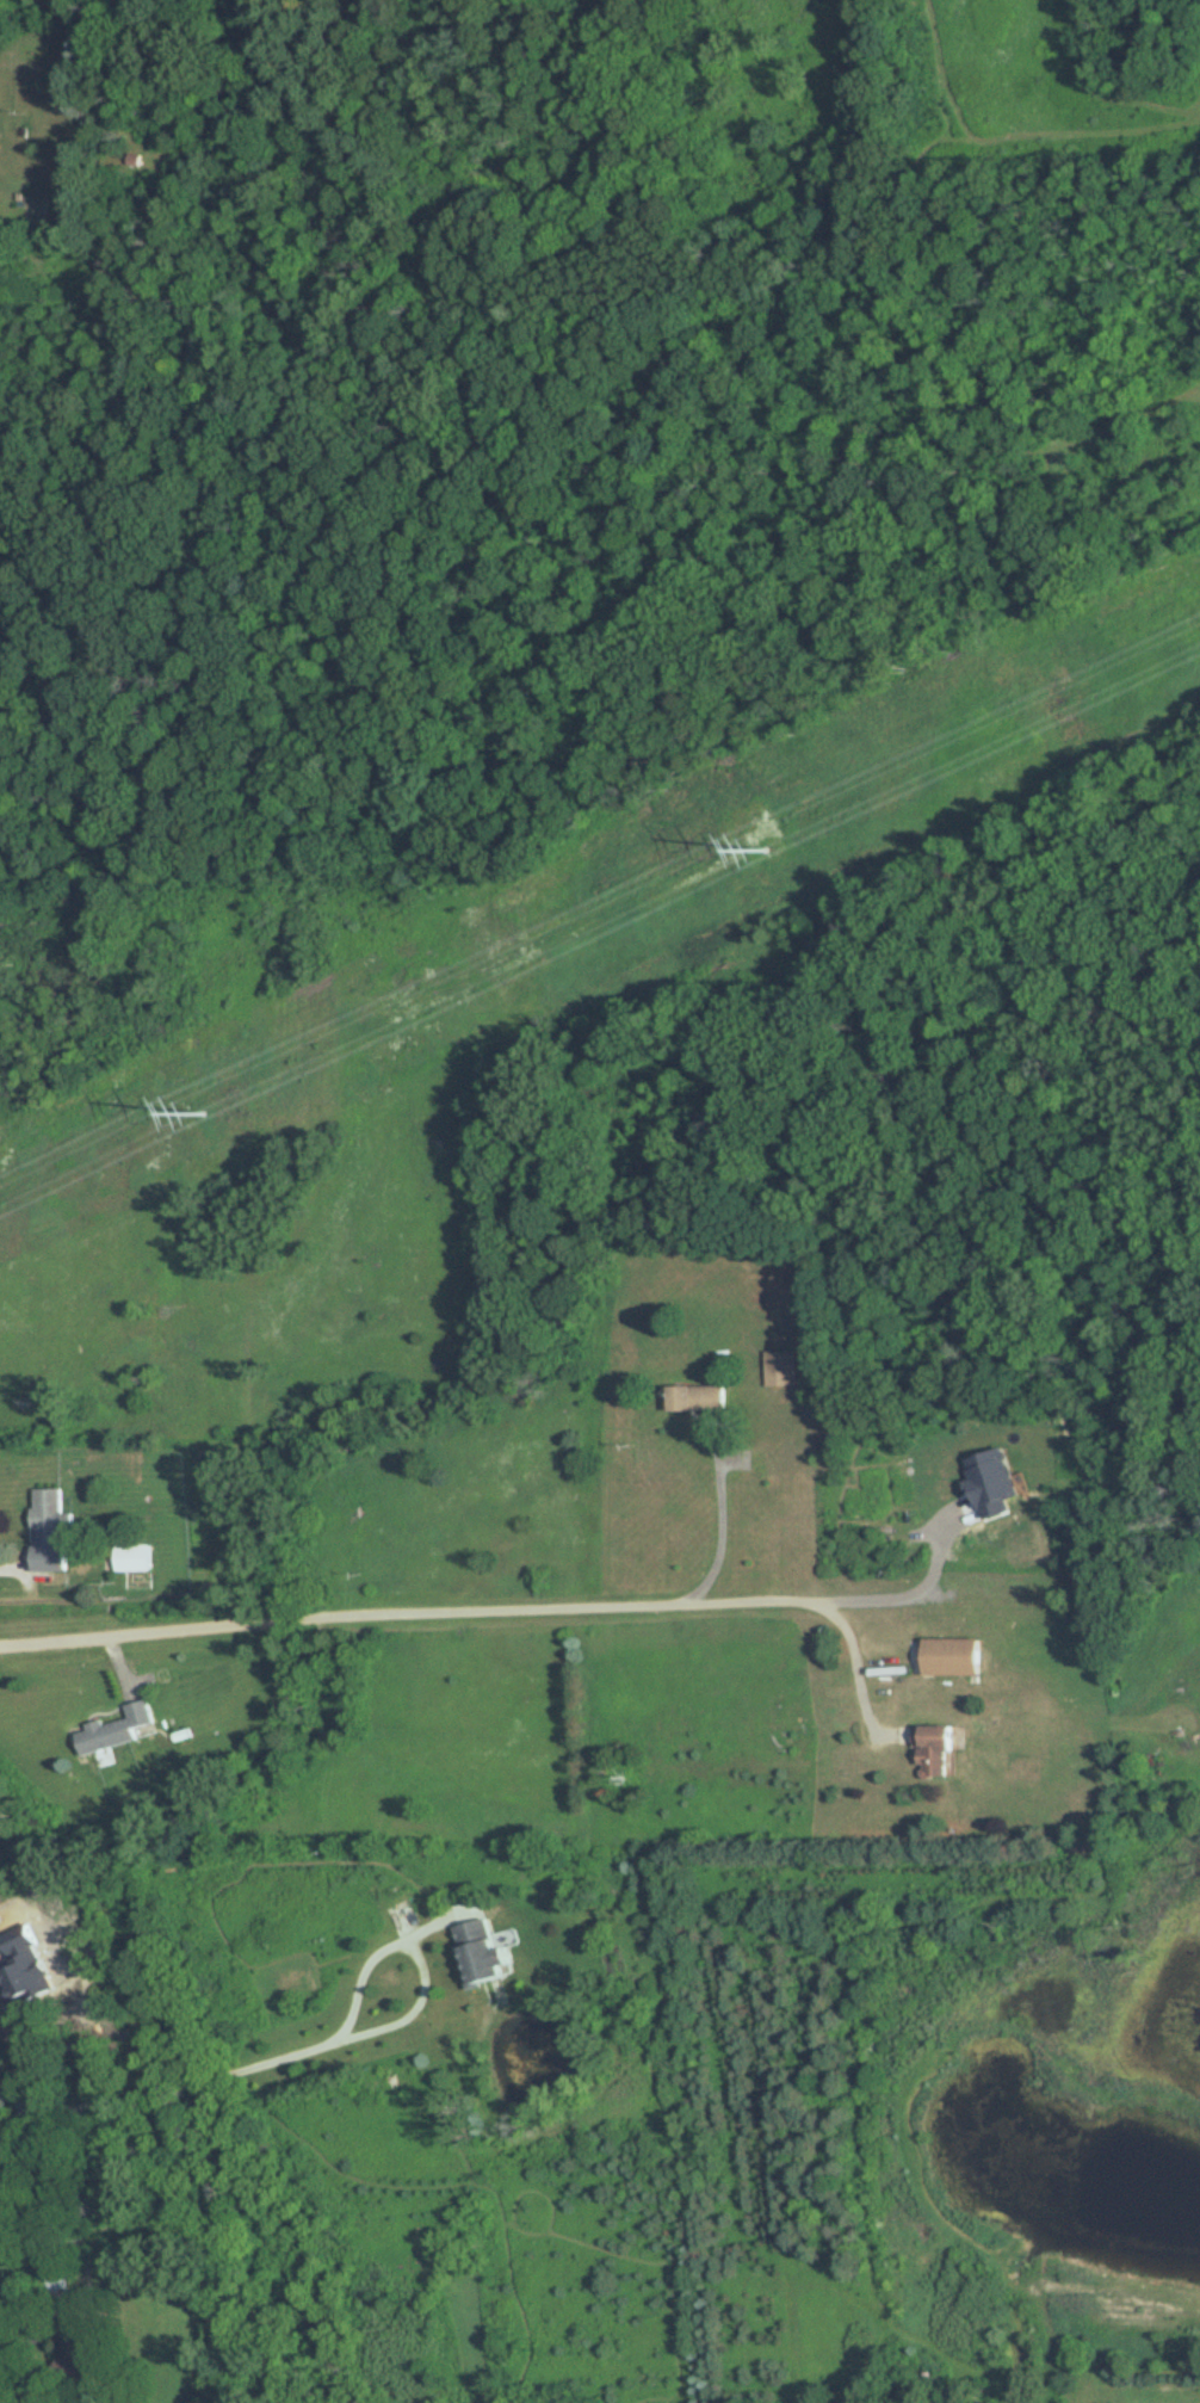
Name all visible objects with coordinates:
building: (131, 160)
power tower: (766, 847)
power tower: (203, 1111)
building: (779, 1367)
building: (693, 1397)
road: (723, 1527)
building: (49, 1531)
building: (129, 1557)
road: (7, 1588)
road: (916, 1595)
road: (476, 1613)
building: (948, 1656)
building: (113, 1729)
building: (930, 1750)
building: (478, 1952)
road: (415, 1954)
road: (166, 2087)
building: (57, 2284)
road: (39, 2321)
building: (73, 2355)

